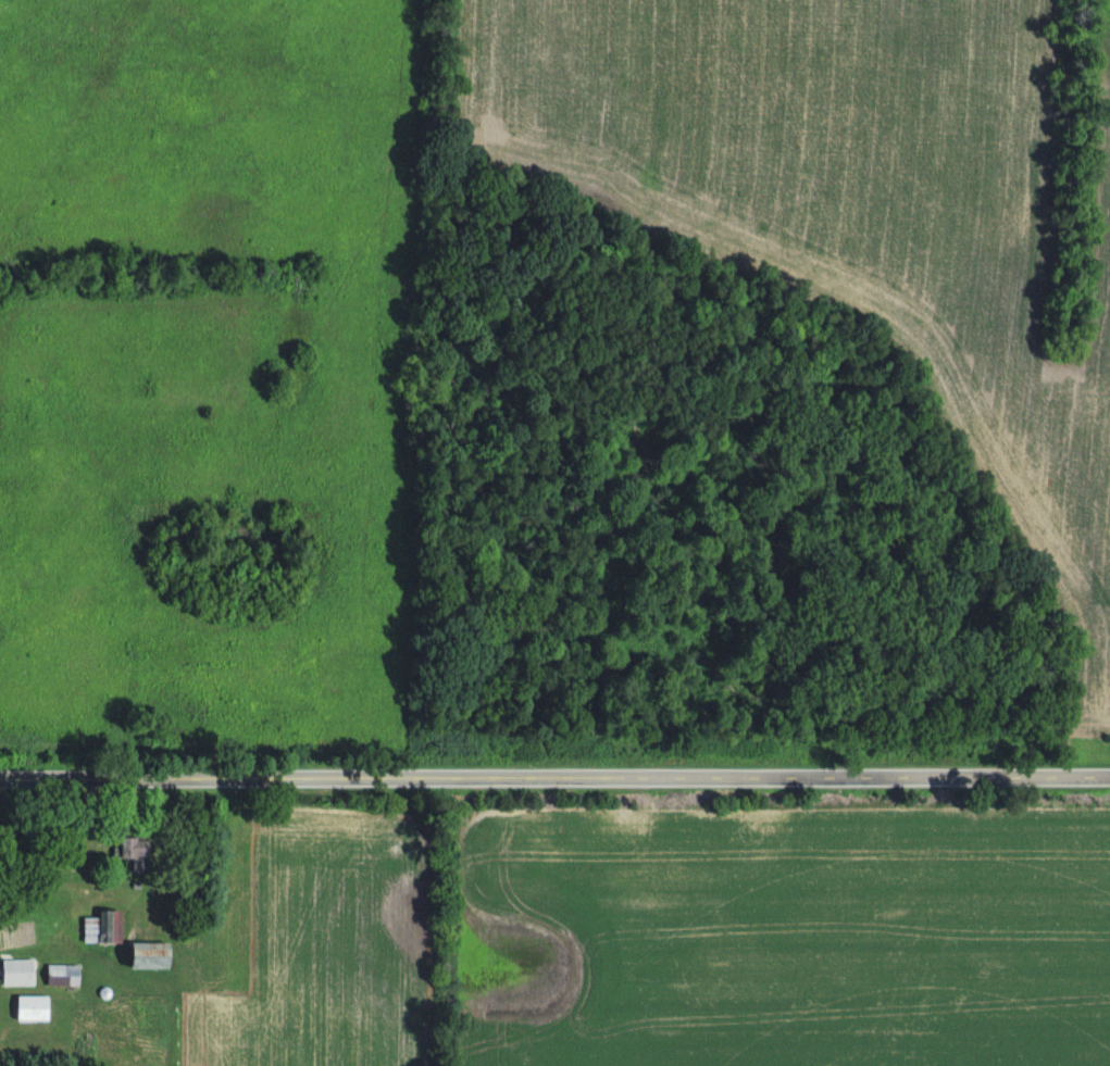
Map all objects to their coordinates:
road: (554, 774)
building: (140, 856)
building: (92, 932)
building: (20, 974)
building: (65, 977)
building: (35, 1009)

